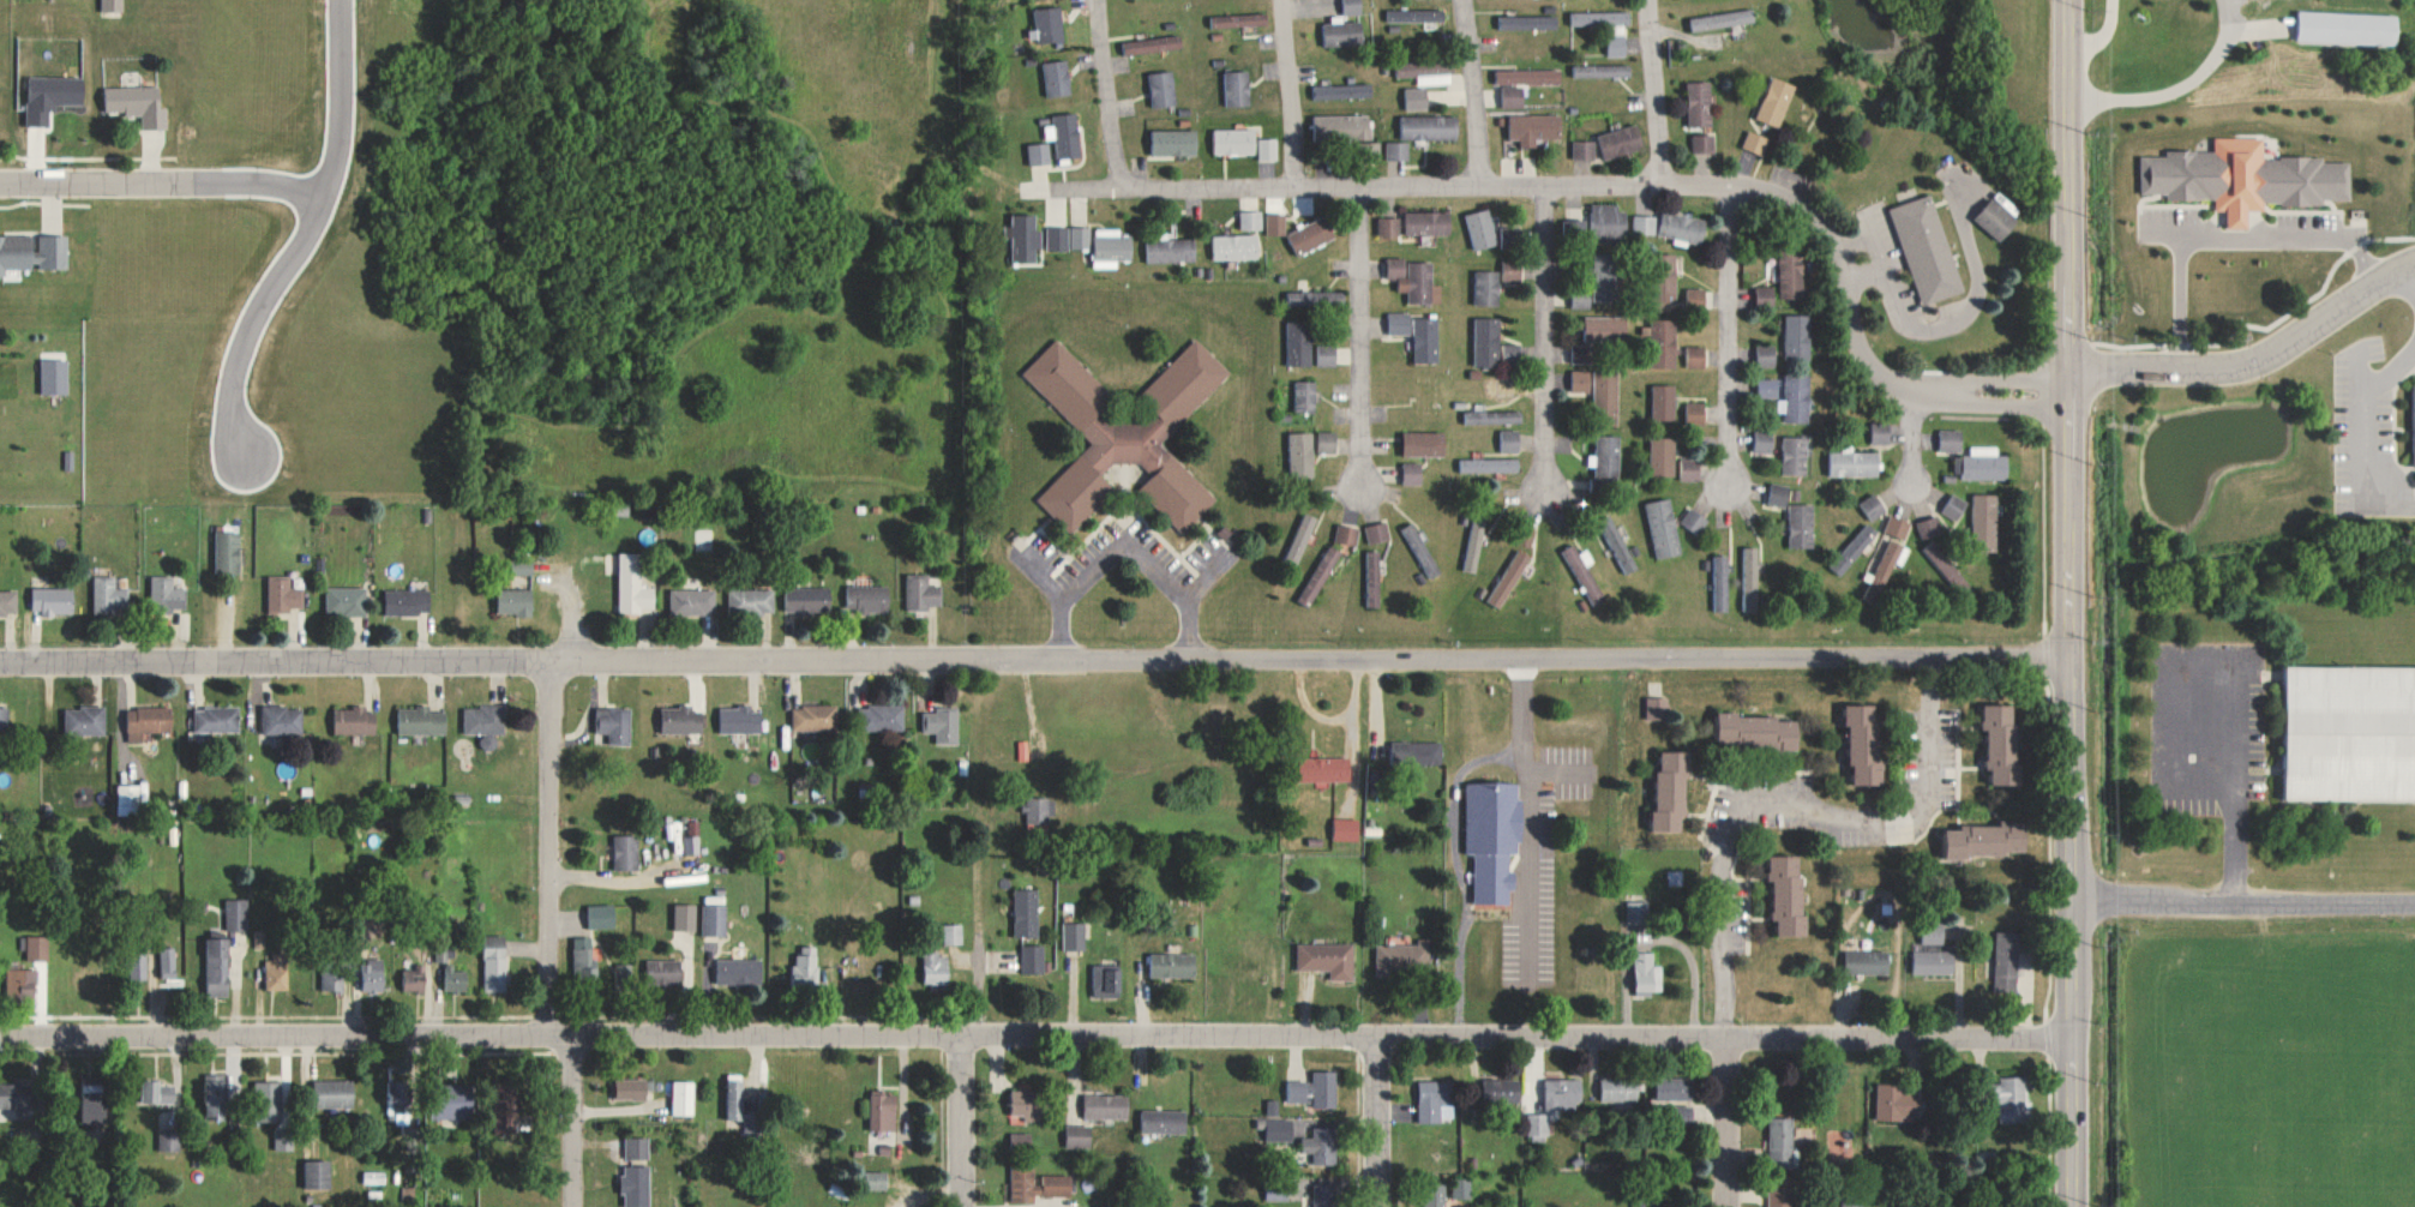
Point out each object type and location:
building: (113, 6)
building: (1352, 7)
building: (95, 8)
building: (1418, 17)
building: (1602, 18)
building: (1723, 19)
building: (1240, 20)
building: (1528, 23)
building: (1050, 24)
building: (2348, 28)
road: (2257, 30)
building: (1344, 34)
road: (2103, 37)
building: (1153, 44)
building: (1617, 47)
building: (1604, 71)
building: (1428, 72)
building: (1530, 77)
building: (1057, 79)
building: (1163, 89)
building: (1238, 89)
building: (1344, 91)
road: (2176, 91)
road: (1291, 96)
building: (1514, 96)
road: (1658, 96)
building: (53, 97)
road: (1477, 97)
building: (1416, 98)
building: (1776, 102)
building: (139, 104)
building: (1699, 104)
building: (1430, 127)
building: (1342, 128)
building: (1536, 128)
building: (1065, 136)
building: (1234, 142)
building: (1622, 142)
building: (1176, 143)
building: (1755, 143)
building: (1702, 144)
building: (1267, 150)
building: (1582, 150)
building: (1398, 151)
building: (1039, 154)
building: (2246, 179)
road: (155, 185)
road: (1561, 193)
building: (1250, 221)
building: (1995, 221)
building: (1610, 222)
building: (1429, 223)
building: (1275, 224)
building: (1646, 226)
building: (1388, 227)
building: (1977, 227)
building: (1575, 228)
building: (1482, 229)
building: (1682, 229)
building: (1311, 235)
building: (1510, 236)
building: (1080, 238)
road: (288, 239)
building: (1026, 239)
building: (1057, 239)
building: (1236, 247)
building: (1111, 248)
building: (1172, 251)
building: (32, 253)
building: (1906, 258)
building: (1513, 271)
building: (1791, 274)
building: (1666, 276)
building: (1606, 278)
building: (1414, 281)
building: (1486, 289)
building: (1765, 296)
building: (1316, 299)
building: (1696, 299)
building: (1399, 324)
building: (1605, 328)
building: (1797, 337)
building: (1425, 341)
building: (1488, 341)
road: (1731, 342)
building: (1299, 343)
road: (1363, 343)
road: (1544, 343)
building: (1663, 343)
building: (1582, 353)
building: (1765, 354)
building: (1327, 355)
building: (1696, 356)
road: (2257, 365)
building: (55, 376)
building: (1580, 382)
building: (37, 383)
building: (1600, 384)
building: (1768, 386)
building: (1305, 395)
building: (1797, 397)
building: (1663, 401)
building: (1695, 413)
building: (1494, 416)
building: (2414, 427)
building: (1881, 432)
building: (1125, 433)
building: (1950, 439)
building: (1508, 440)
building: (1328, 442)
building: (1762, 442)
building: (1424, 443)
road: (1905, 443)
building: (1300, 454)
building: (1608, 455)
building: (1794, 455)
building: (1663, 456)
building: (1852, 463)
building: (1981, 463)
building: (1488, 466)
building: (1689, 469)
building: (1413, 473)
building: (1779, 494)
building: (1870, 506)
building: (1952, 506)
building: (1692, 520)
building: (1983, 522)
building: (1801, 524)
building: (1896, 526)
building: (1664, 527)
building: (1928, 527)
building: (1376, 532)
building: (1345, 534)
building: (1299, 539)
building: (1615, 545)
building: (1852, 547)
building: (1419, 550)
building: (229, 551)
building: (1939, 560)
building: (524, 566)
building: (1884, 572)
building: (1582, 574)
building: (1318, 575)
building: (1508, 577)
building: (1748, 577)
building: (1371, 578)
building: (1718, 582)
building: (633, 584)
building: (923, 593)
building: (167, 594)
building: (110, 595)
building: (283, 595)
building: (869, 598)
building: (54, 600)
building: (752, 600)
building: (809, 600)
building: (347, 601)
building: (408, 601)
building: (516, 601)
building: (693, 601)
building: (8, 602)
road: (2069, 602)
road: (1034, 659)
building: (1656, 707)
building: (885, 716)
building: (5, 717)
building: (816, 717)
building: (217, 719)
building: (85, 720)
building: (283, 720)
building: (355, 720)
building: (422, 720)
building: (681, 720)
building: (741, 720)
building: (149, 721)
building: (486, 723)
building: (615, 725)
building: (943, 725)
building: (1754, 729)
building: (2343, 740)
building: (2004, 741)
building: (1867, 744)
building: (1417, 752)
building: (1326, 769)
building: (1674, 788)
building: (128, 799)
building: (1039, 810)
building: (1346, 829)
building: (1494, 837)
road: (1723, 837)
building: (1984, 840)
building: (692, 845)
building: (626, 852)
building: (1790, 891)
road: (2241, 902)
building: (1027, 912)
building: (1638, 912)
building: (236, 914)
building: (602, 915)
building: (685, 917)
building: (714, 919)
building: (954, 933)
building: (1932, 933)
building: (1075, 936)
road: (548, 938)
building: (36, 947)
building: (1400, 957)
building: (585, 959)
building: (1328, 959)
building: (1866, 961)
building: (168, 962)
building: (1035, 962)
building: (1933, 962)
building: (2006, 962)
building: (495, 963)
building: (1175, 965)
building: (218, 967)
building: (806, 967)
building: (935, 967)
building: (663, 971)
building: (740, 971)
building: (276, 972)
building: (1647, 974)
building: (373, 975)
building: (624, 975)
building: (332, 978)
building: (414, 979)
building: (455, 979)
building: (20, 981)
building: (1109, 981)
road: (1035, 1038)
building: (632, 1088)
building: (1314, 1089)
building: (1621, 1089)
building: (160, 1091)
building: (1502, 1091)
building: (336, 1093)
building: (1564, 1094)
building: (1677, 1094)
building: (14, 1095)
building: (216, 1095)
building: (94, 1098)
building: (398, 1098)
building: (684, 1098)
building: (1435, 1099)
building: (2013, 1100)
building: (269, 1101)
building: (1897, 1101)
building: (458, 1103)
building: (1031, 1104)
building: (741, 1106)
building: (1106, 1106)
building: (507, 1107)
building: (883, 1112)
building: (1165, 1121)
road: (956, 1122)
road: (1374, 1123)
building: (1539, 1124)
building: (1803, 1134)
building: (1079, 1136)
building: (284, 1139)
building: (169, 1140)
building: (1782, 1142)
building: (1321, 1146)
building: (637, 1148)
building: (319, 1173)
building: (373, 1177)
building: (878, 1181)
building: (1037, 1184)
building: (636, 1187)
building: (1462, 1188)
building: (1324, 1195)
building: (1438, 1195)
building: (1782, 1196)

